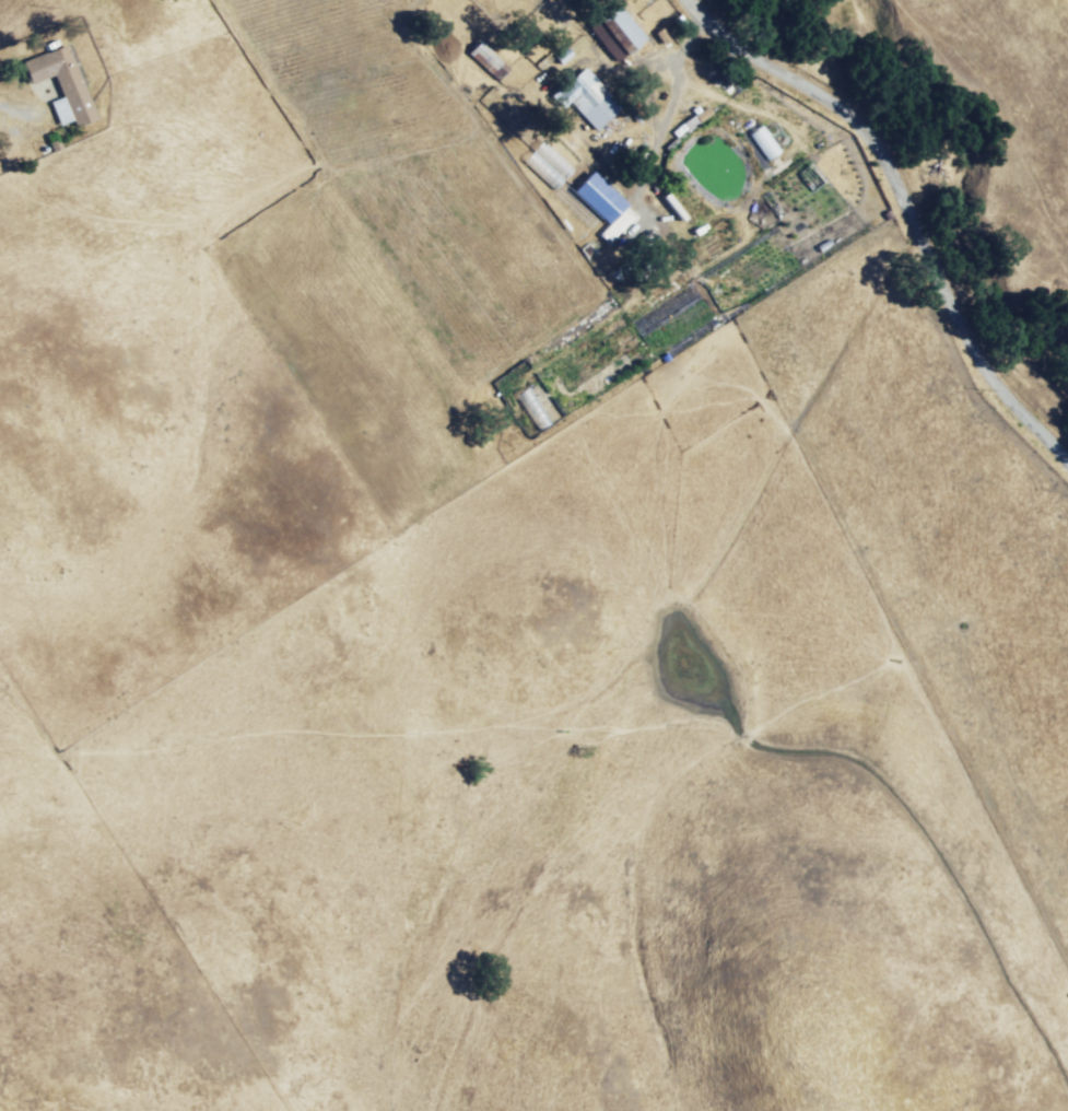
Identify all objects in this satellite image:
building: (619, 37)
building: (489, 65)
building: (66, 87)
building: (591, 102)
road: (670, 110)
road: (894, 230)

